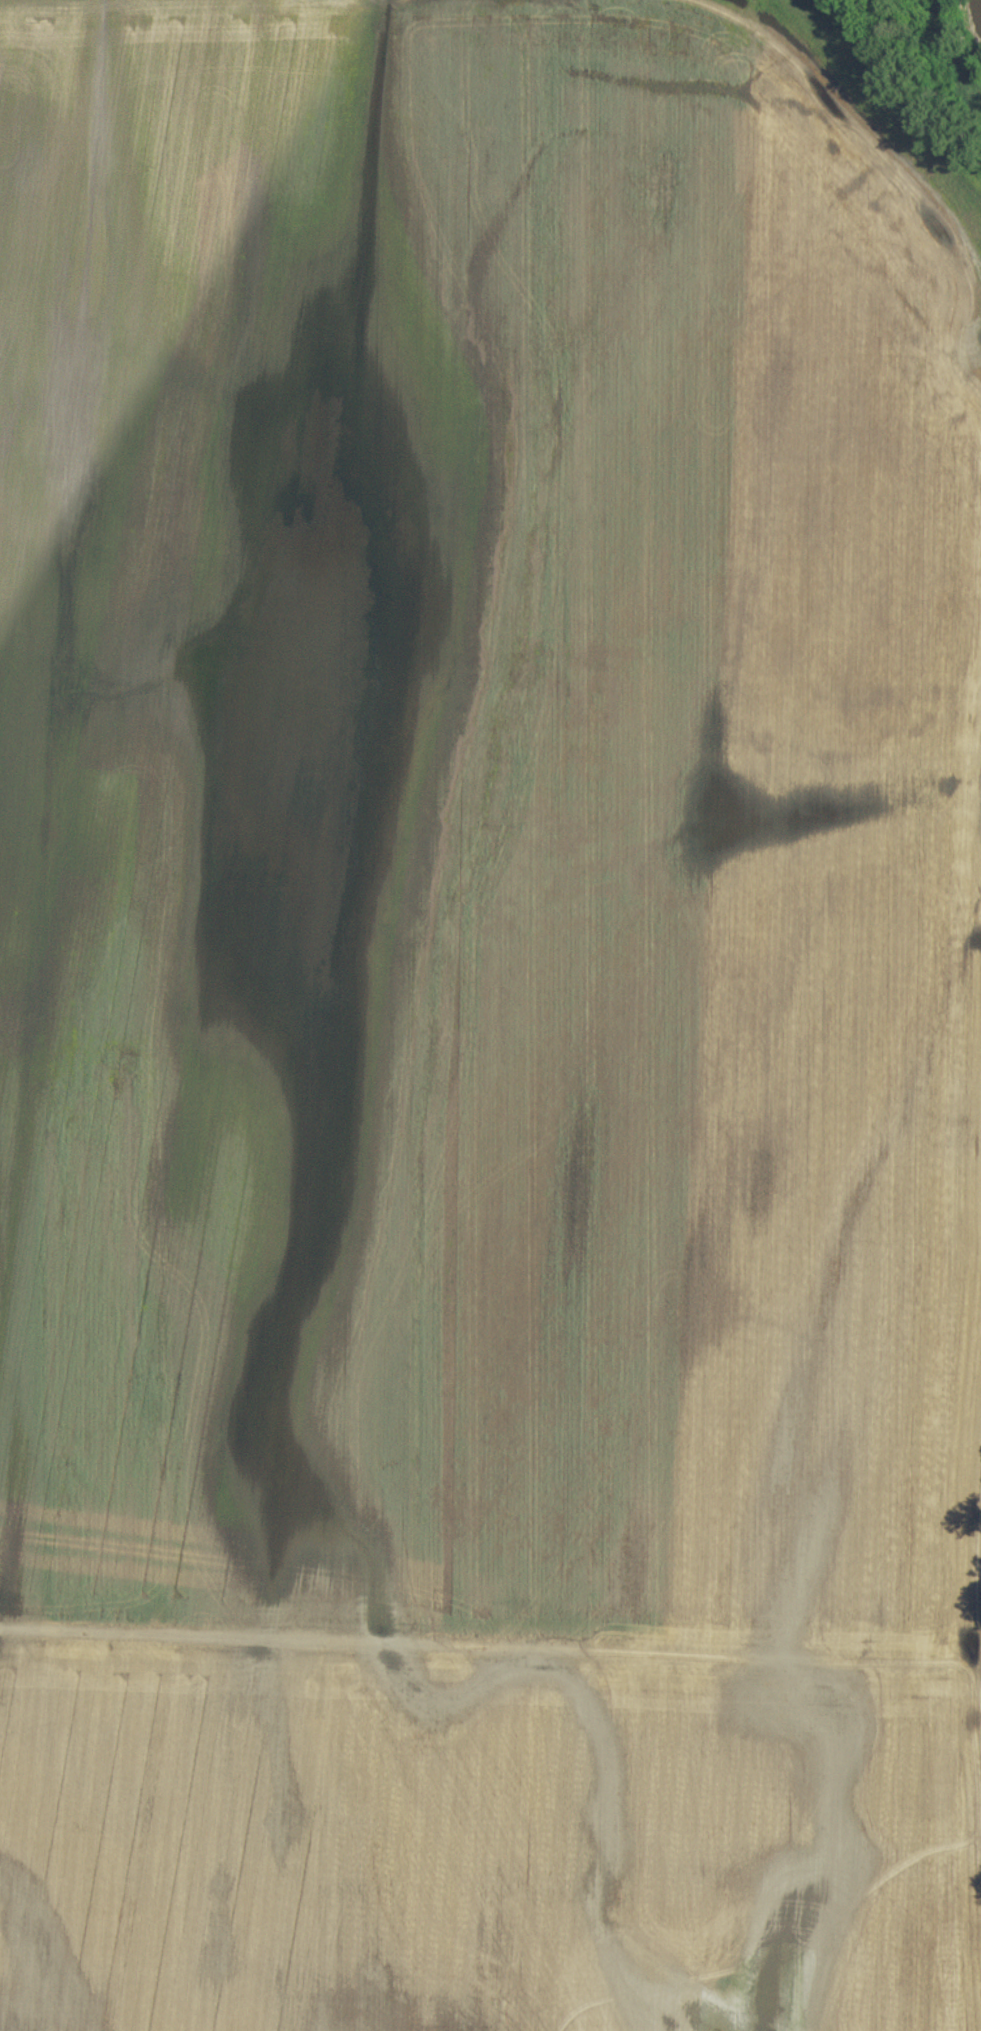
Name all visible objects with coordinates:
road: (899, 96)

